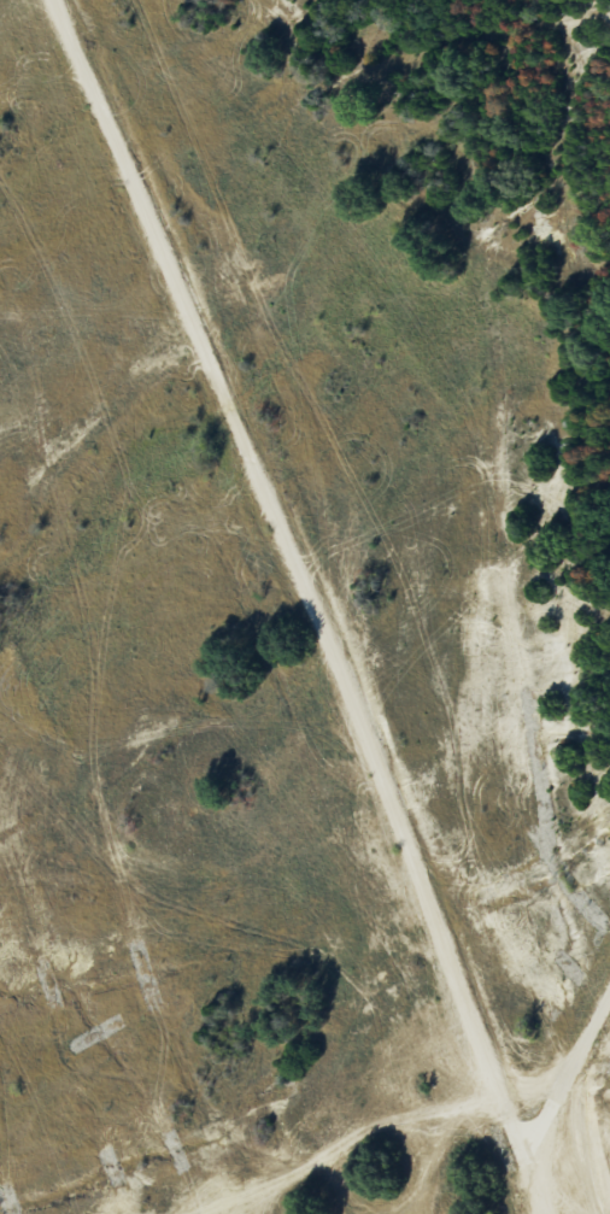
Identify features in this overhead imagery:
road: (307, 604)

